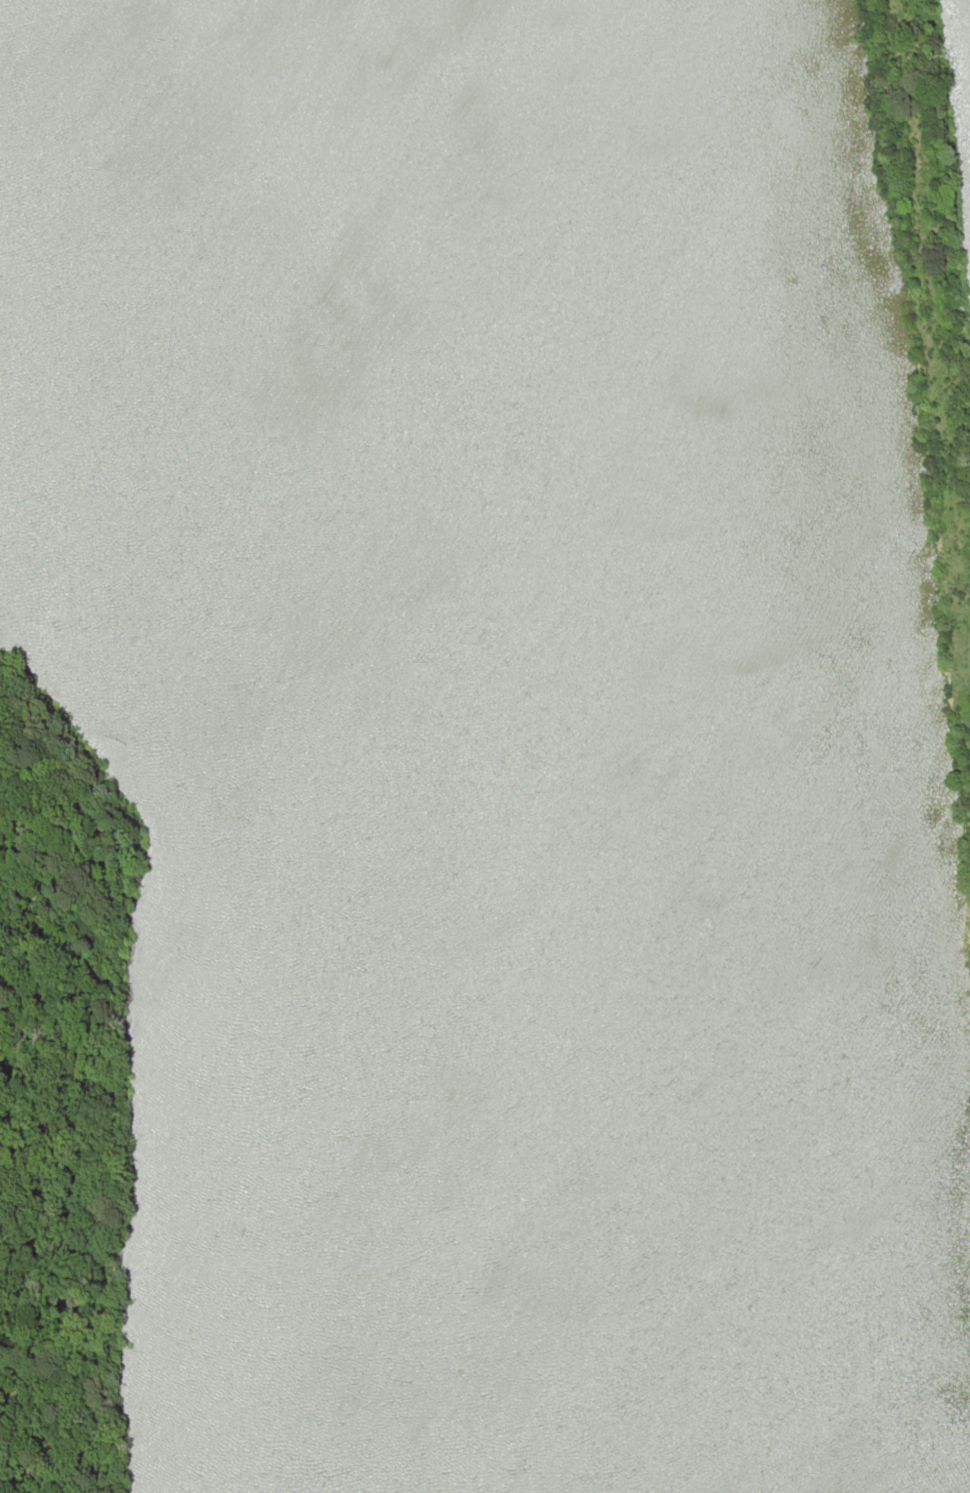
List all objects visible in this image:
river: (358, 697)

